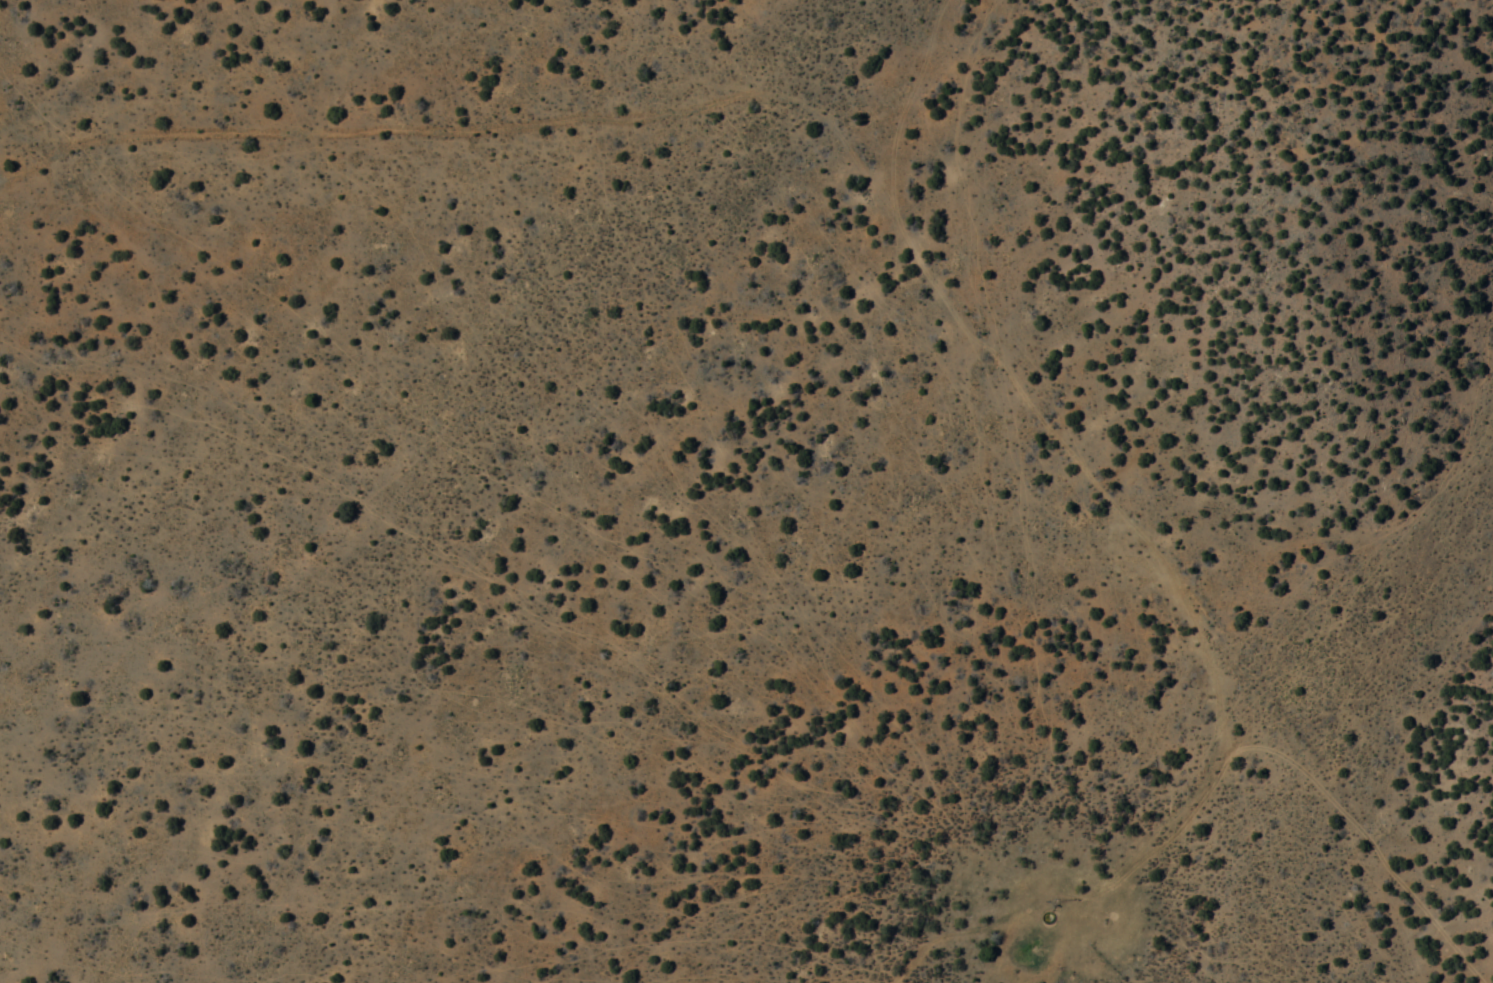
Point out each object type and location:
road: (1319, 853)
road: (1076, 873)

